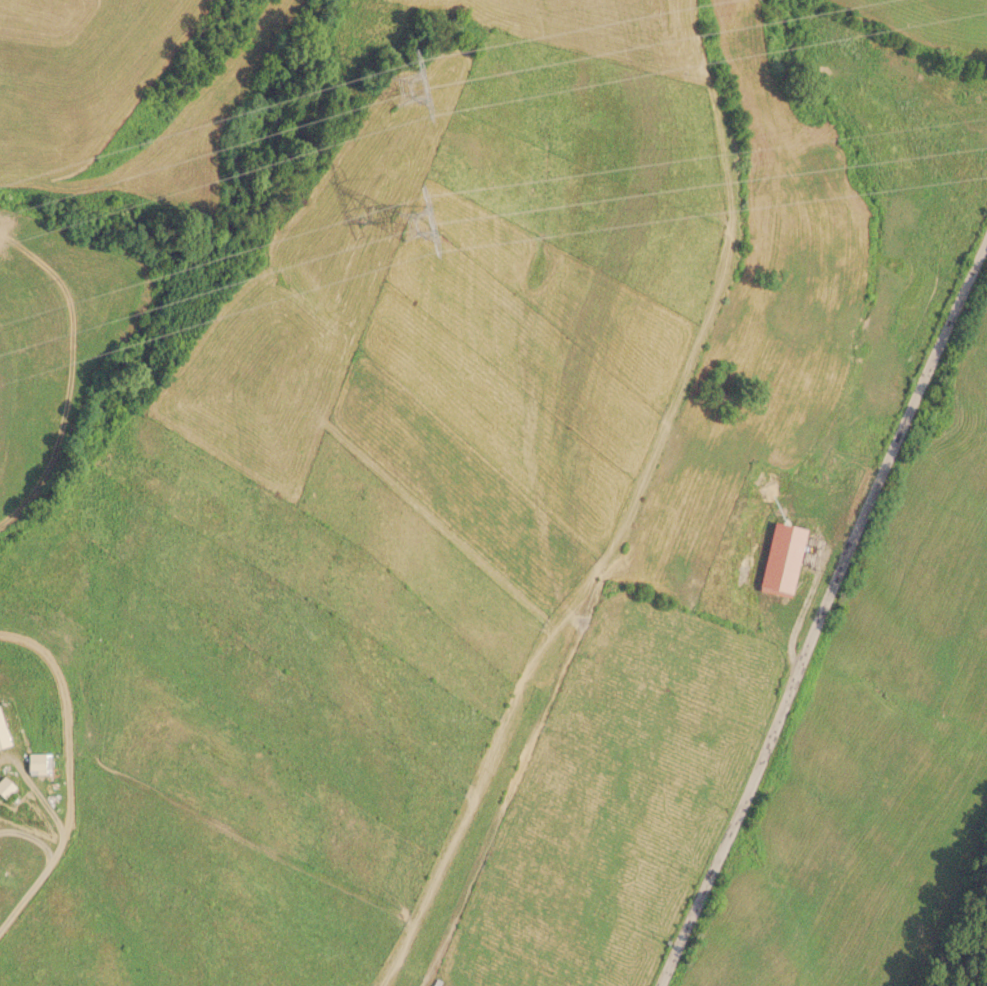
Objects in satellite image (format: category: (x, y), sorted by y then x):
power tower: (433, 81)
power tower: (436, 233)
road: (821, 606)

